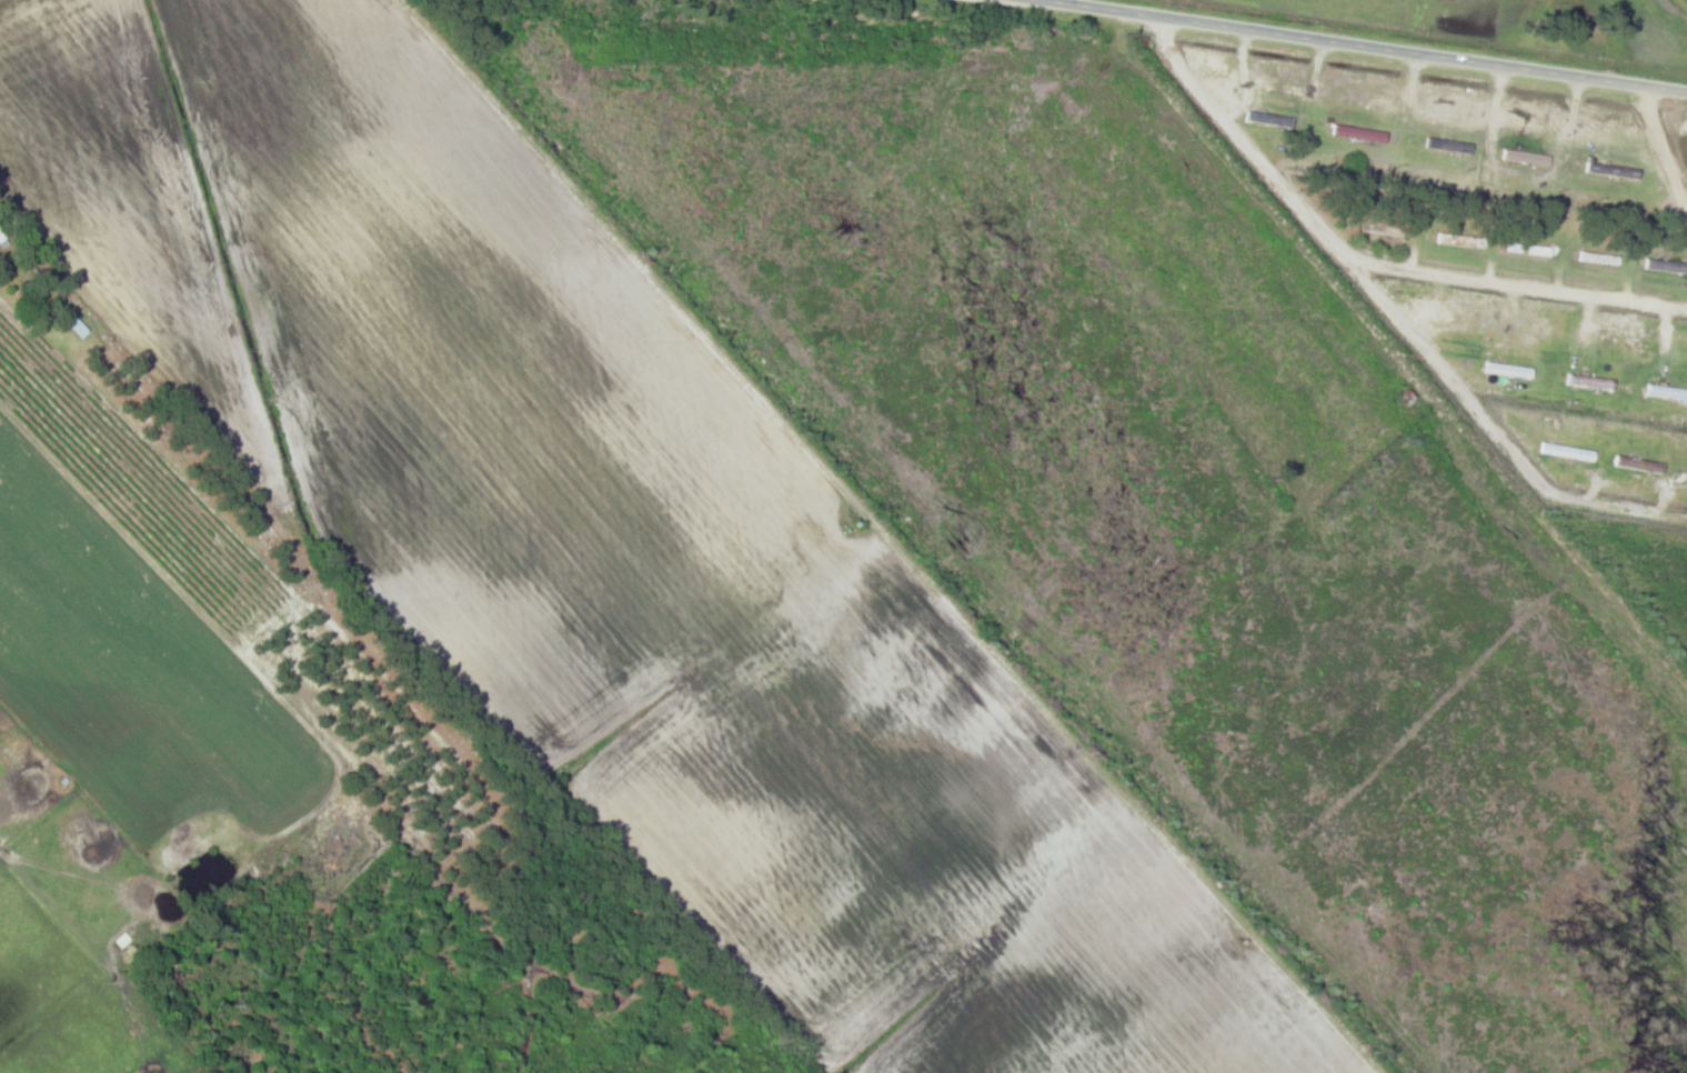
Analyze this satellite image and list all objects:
road: (1369, 46)
building: (1271, 119)
building: (1358, 133)
road: (1663, 146)
building: (1445, 147)
building: (1525, 158)
building: (1614, 170)
building: (1384, 230)
building: (1, 235)
building: (1460, 241)
building: (1528, 250)
building: (1598, 259)
road: (1364, 261)
building: (1666, 265)
building: (1509, 370)
building: (1590, 381)
building: (1667, 392)

